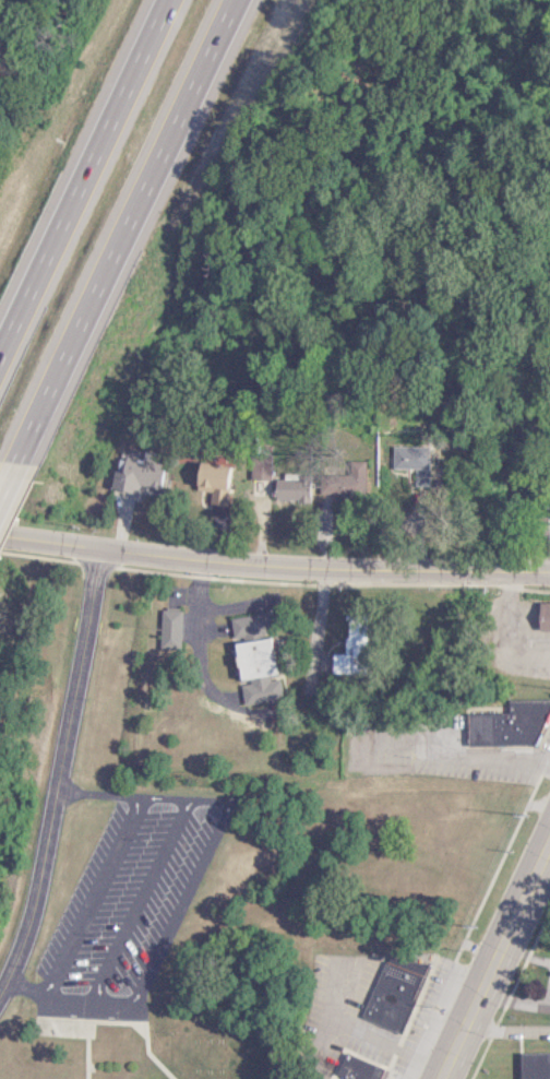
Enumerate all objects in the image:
road: (82, 170)
road: (123, 234)
building: (255, 467)
building: (129, 476)
road: (5, 479)
building: (207, 483)
road: (274, 576)
road: (193, 615)
building: (540, 616)
building: (244, 625)
building: (164, 629)
road: (504, 631)
building: (249, 672)
building: (516, 713)
road: (498, 756)
road: (53, 772)
road: (184, 881)
road: (86, 894)
road: (133, 898)
road: (491, 953)
road: (523, 954)
building: (387, 992)
road: (511, 1003)
road: (504, 1027)
road: (352, 1032)
road: (316, 1034)
building: (531, 1066)
building: (352, 1068)

